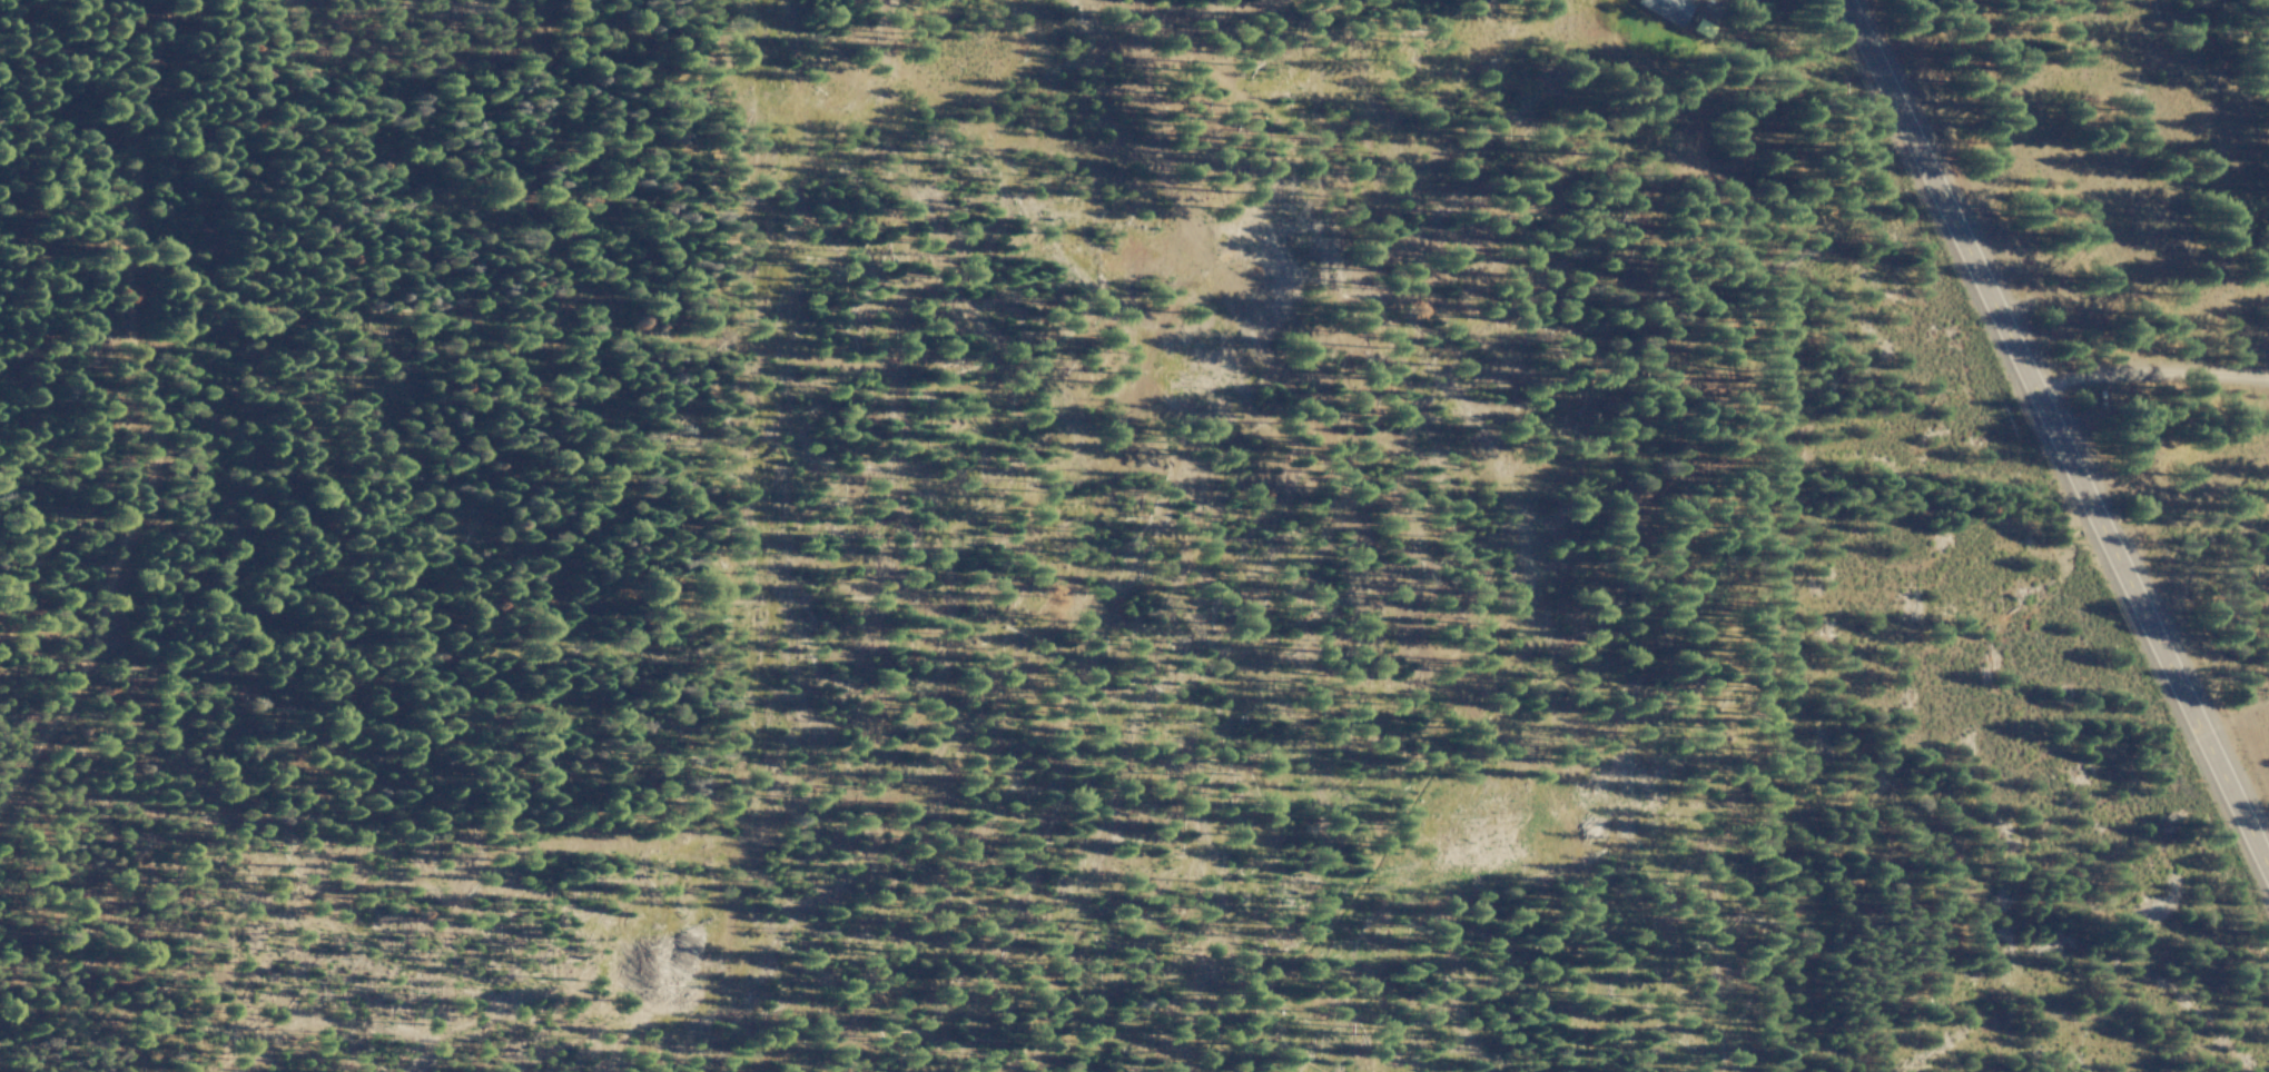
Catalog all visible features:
building: (1666, 8)
road: (2150, 374)
road: (2055, 435)
road: (205, 560)

